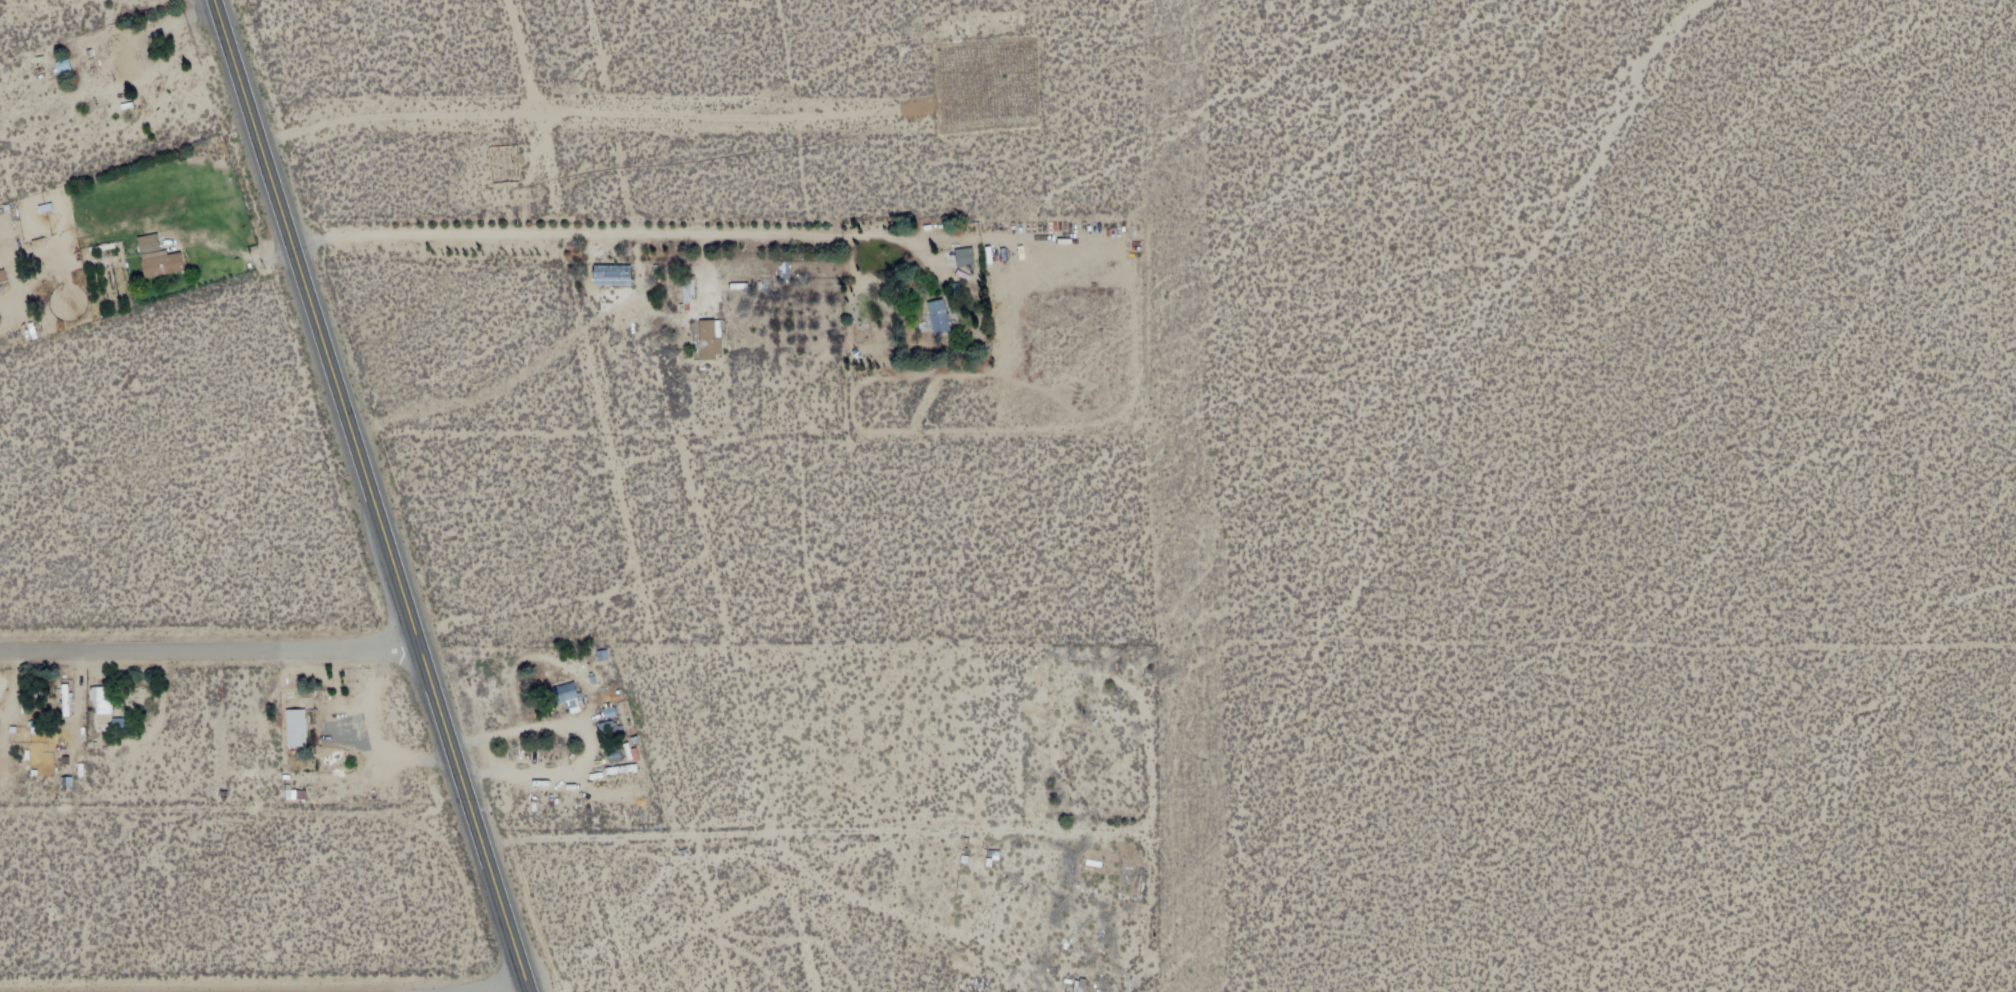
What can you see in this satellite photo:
building: (126, 57)
road: (575, 118)
road: (650, 239)
building: (149, 245)
building: (966, 257)
building: (163, 268)
building: (613, 278)
building: (689, 291)
building: (941, 318)
road: (319, 328)
building: (707, 346)
road: (211, 656)
building: (569, 697)
building: (104, 703)
building: (1113, 713)
building: (123, 725)
building: (297, 731)
road: (473, 824)
building: (1087, 956)

